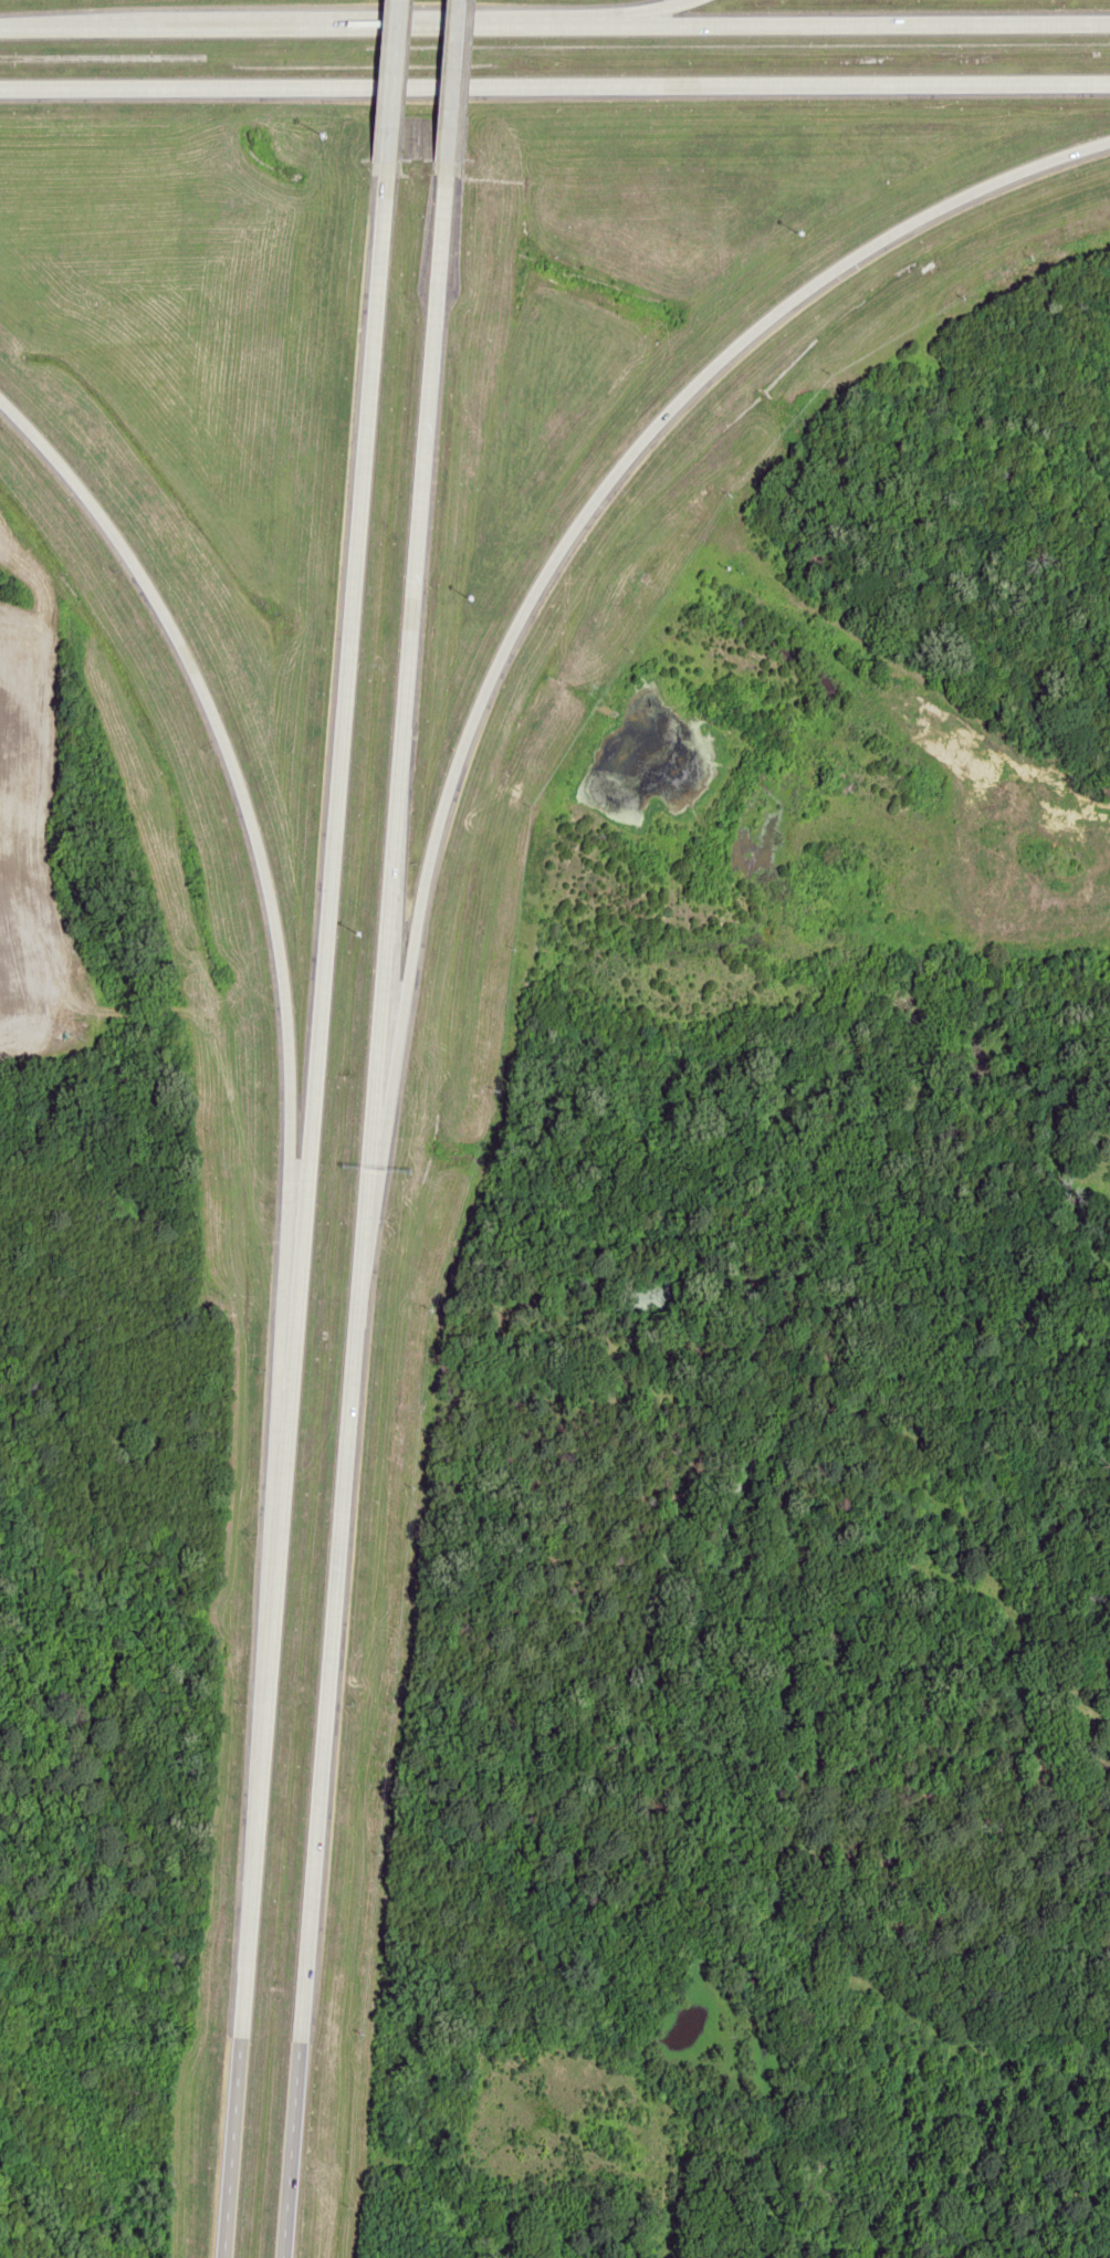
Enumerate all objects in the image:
road: (636, 13)
road: (554, 25)
road: (379, 85)
road: (555, 86)
road: (447, 87)
road: (598, 496)
road: (408, 630)
road: (328, 769)
road: (1095, 803)
building: (1050, 825)
road: (252, 856)
road: (329, 1671)
road: (248, 1812)

